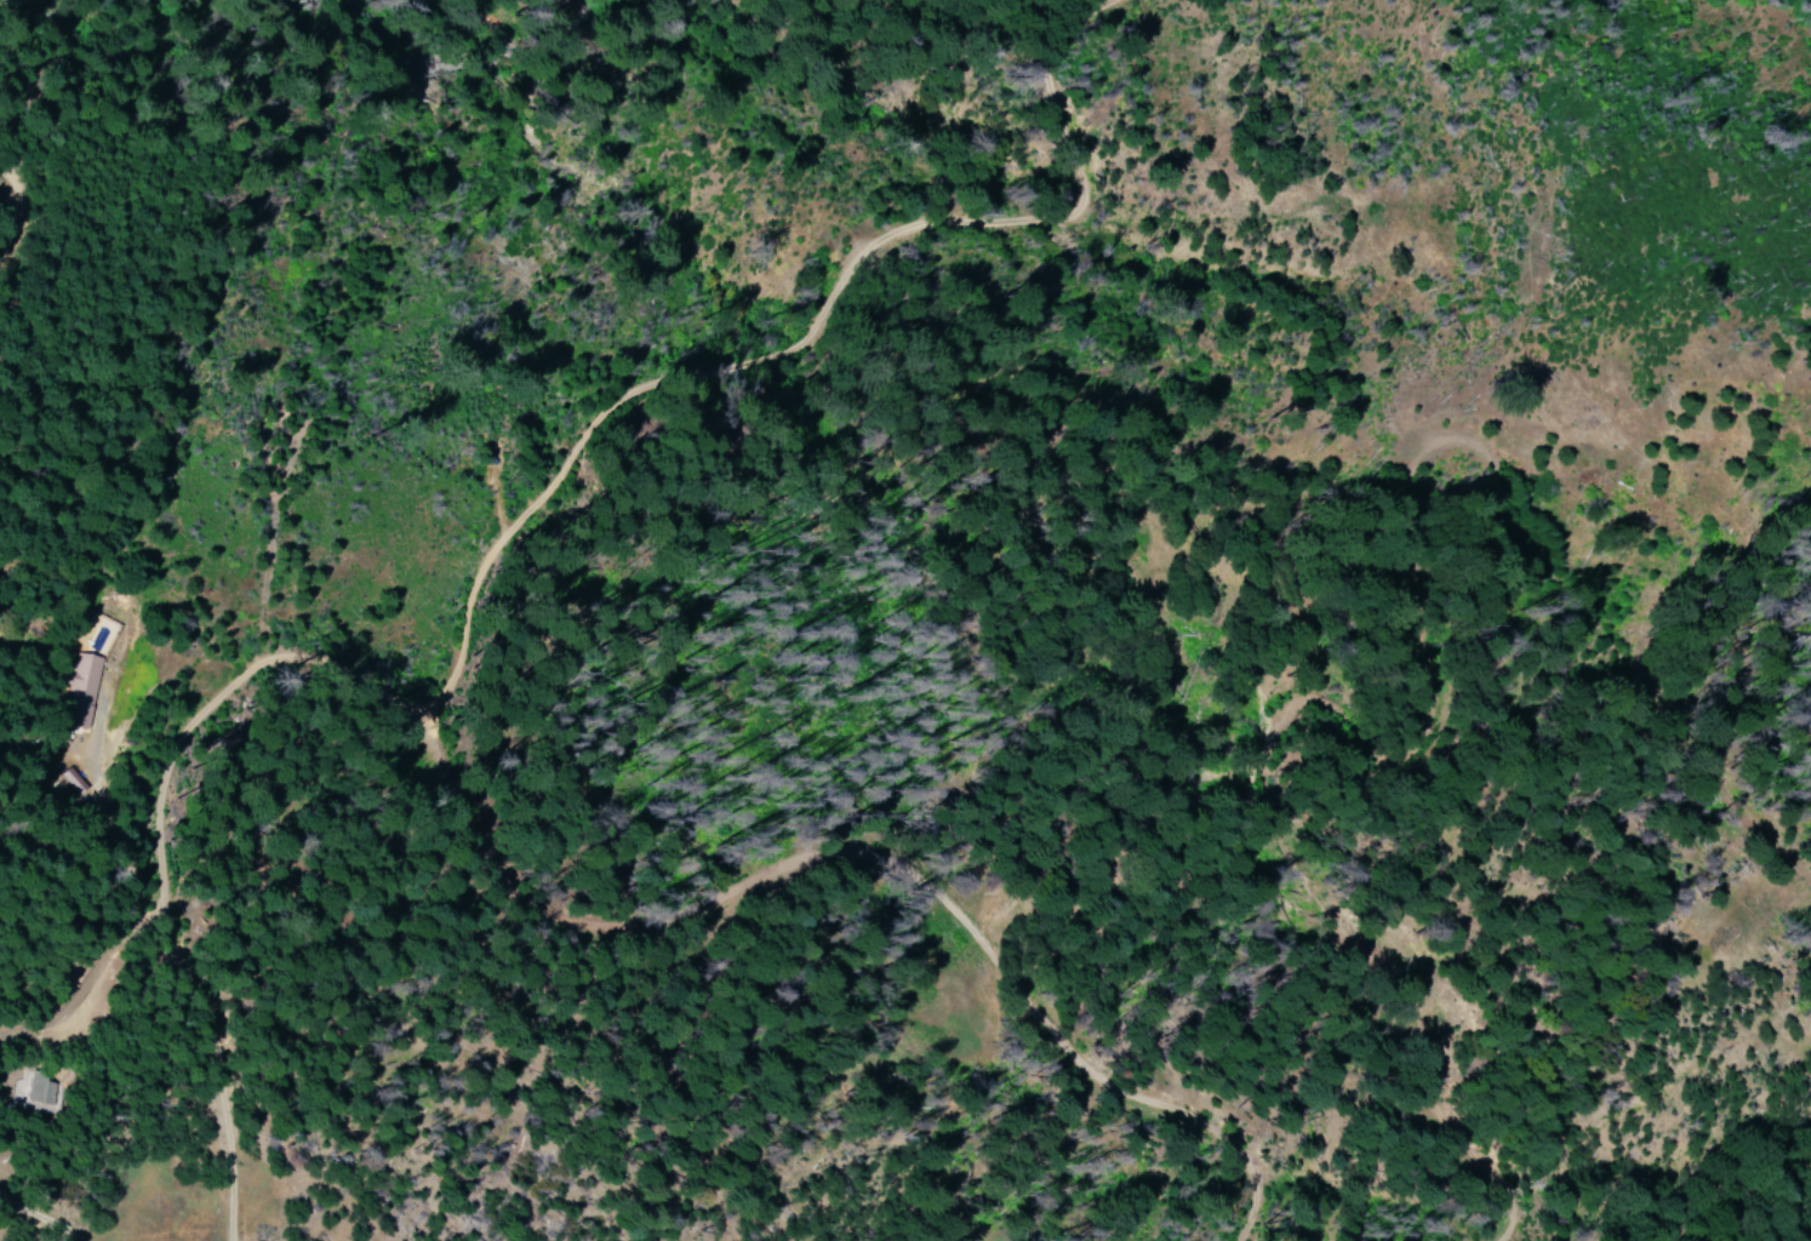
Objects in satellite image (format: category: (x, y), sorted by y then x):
road: (27, 138)
road: (572, 537)
building: (76, 691)
building: (29, 1092)
road: (16, 1226)

